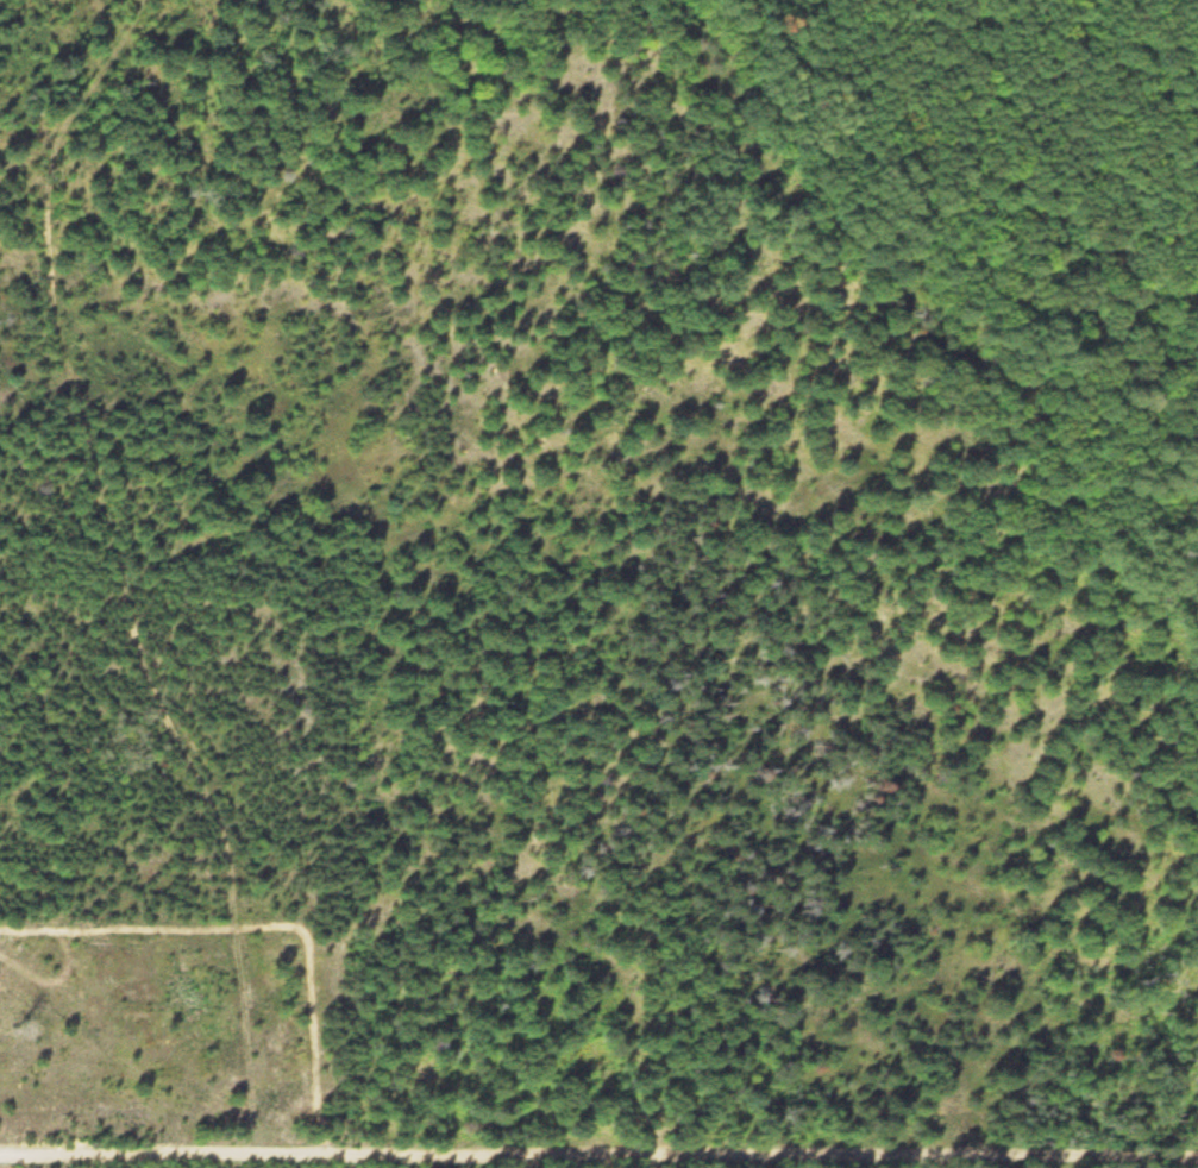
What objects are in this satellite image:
road: (598, 1154)

